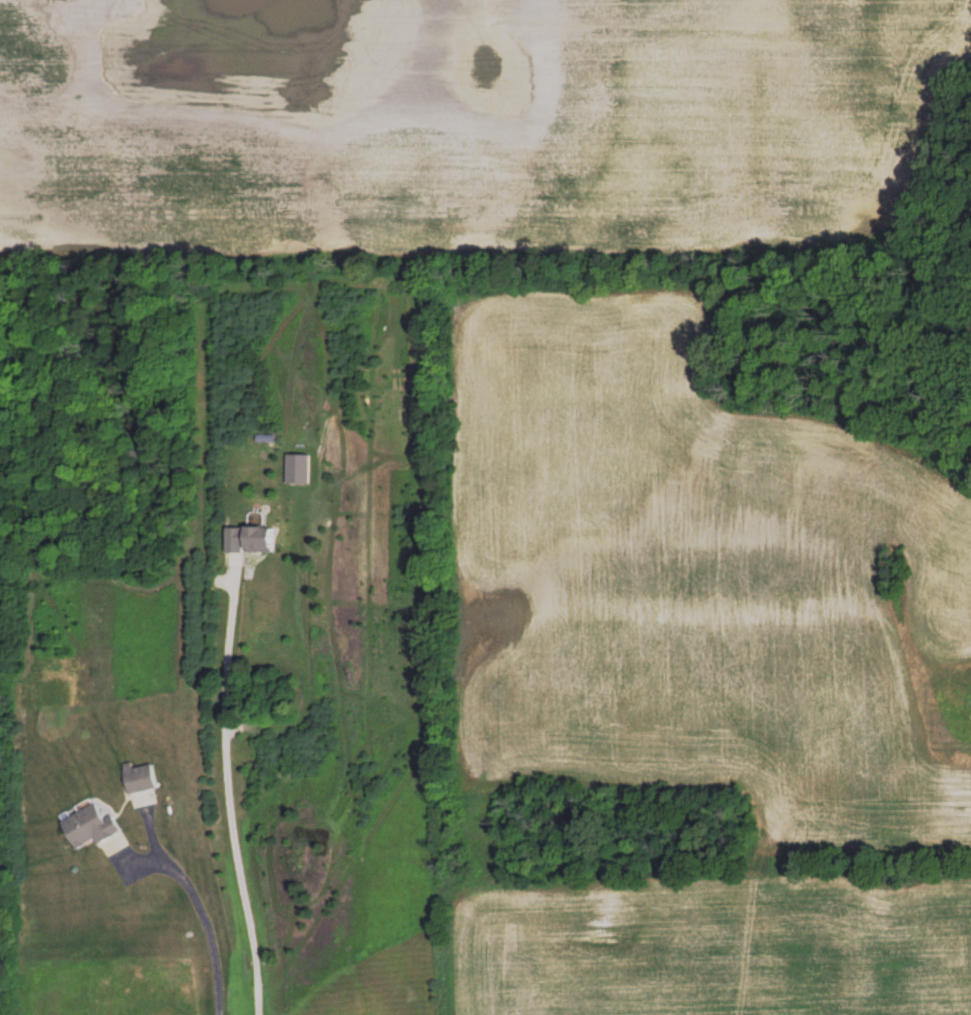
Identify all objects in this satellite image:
building: (299, 468)
building: (251, 539)
building: (141, 777)
road: (230, 801)
building: (93, 826)
road: (206, 920)

